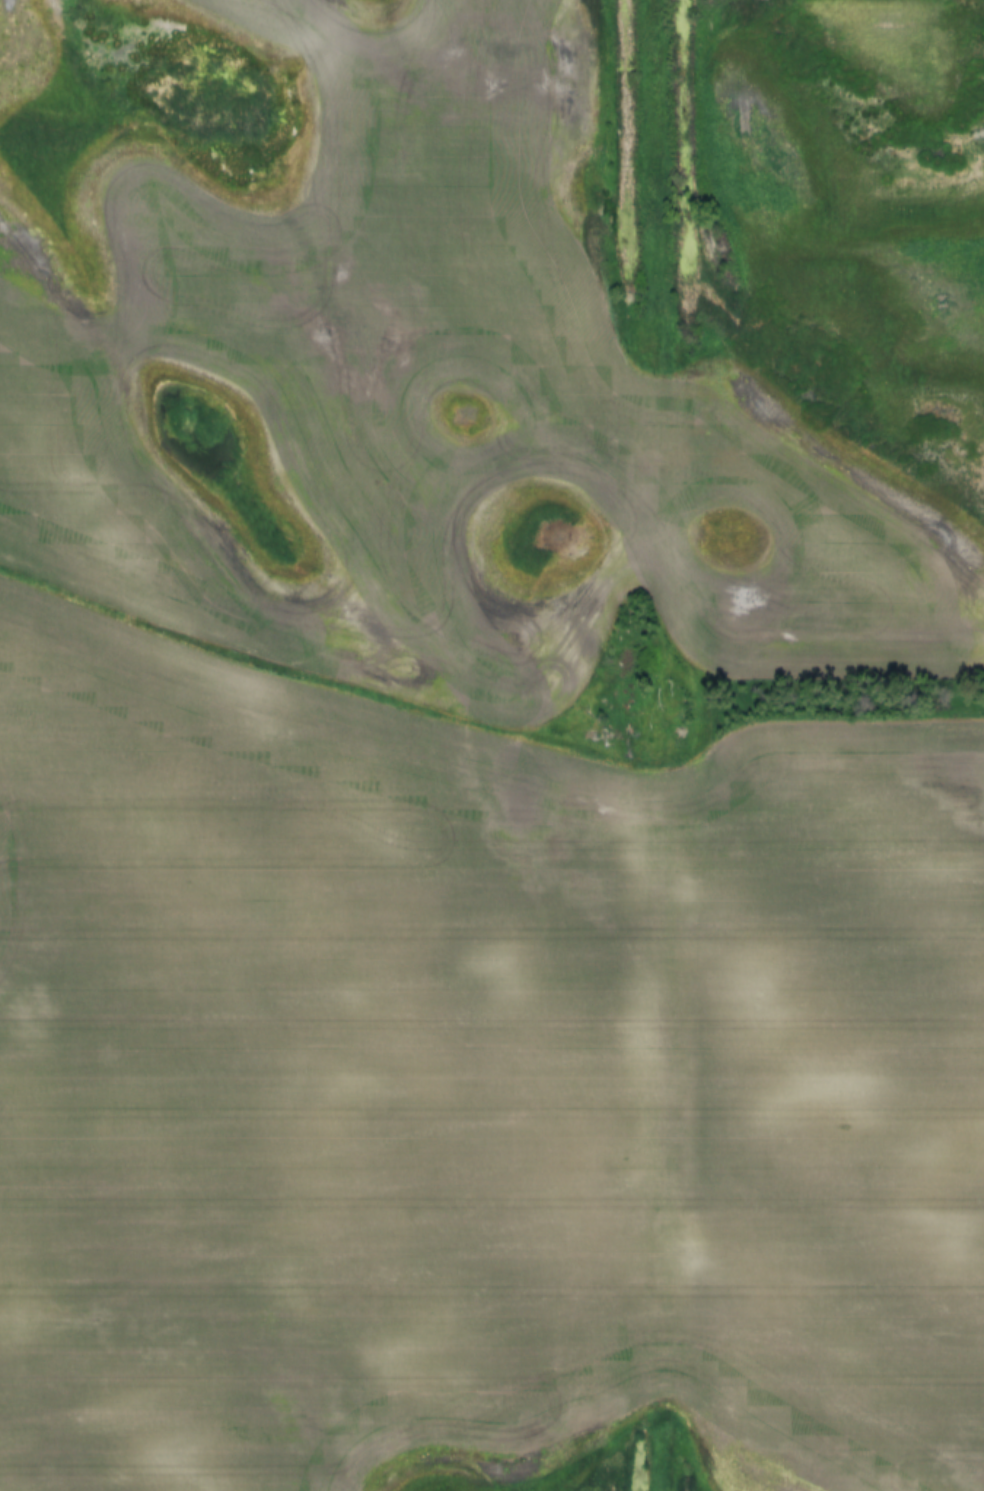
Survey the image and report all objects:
road: (684, 742)
road: (670, 1454)

